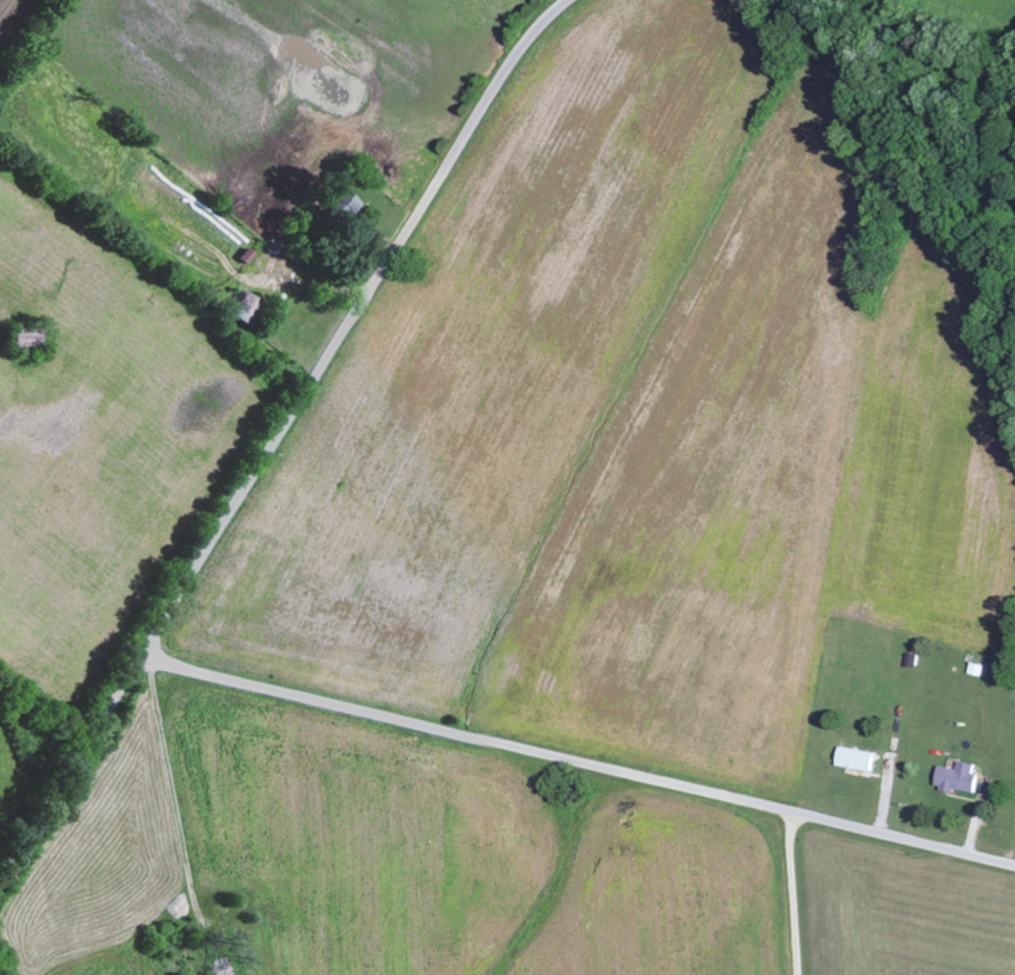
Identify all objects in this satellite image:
building: (31, 338)
road: (278, 437)
building: (858, 758)
road: (578, 762)
building: (960, 777)
road: (415, 851)

